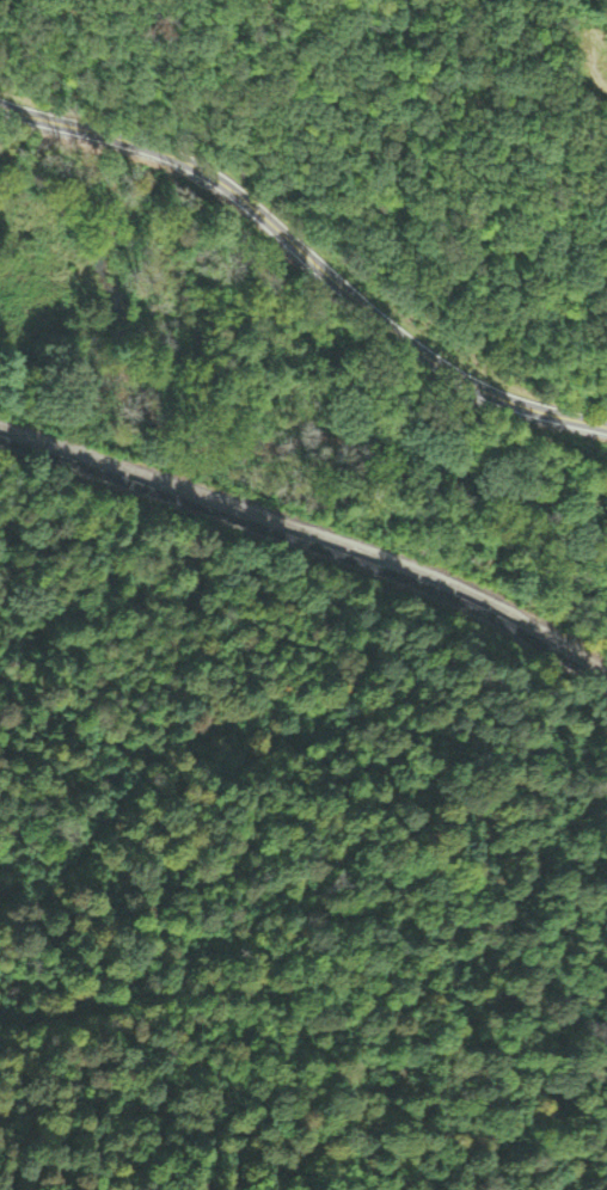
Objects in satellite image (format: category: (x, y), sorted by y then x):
road: (308, 256)
railway: (311, 534)
railway: (311, 548)

